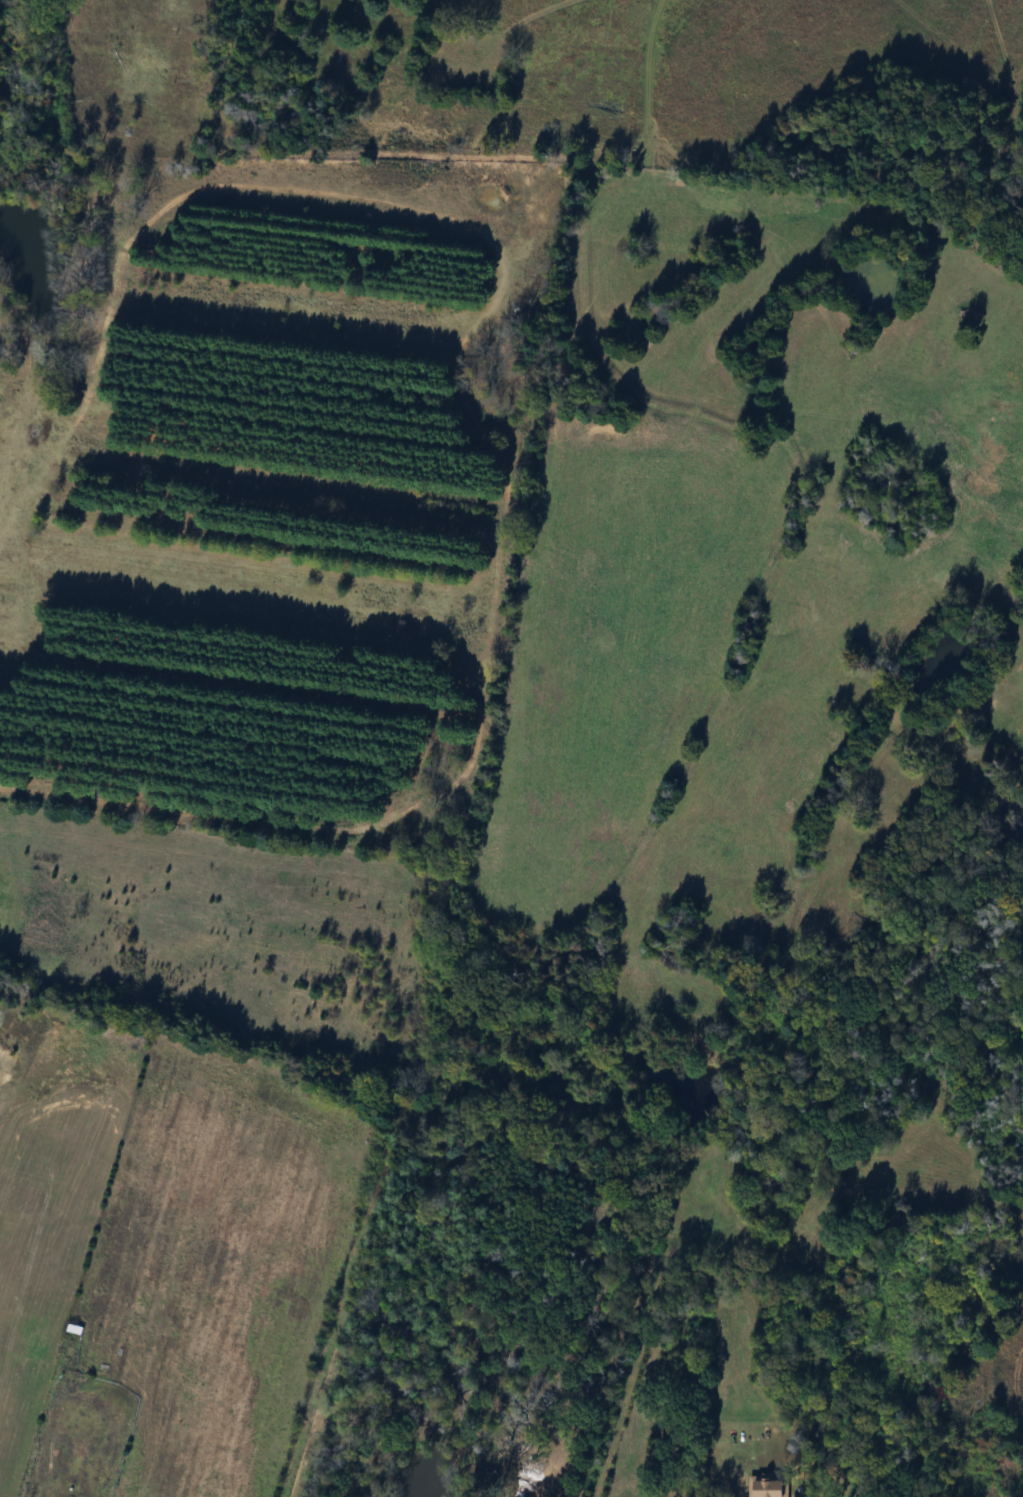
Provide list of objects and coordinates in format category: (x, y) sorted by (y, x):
building: (768, 1486)

